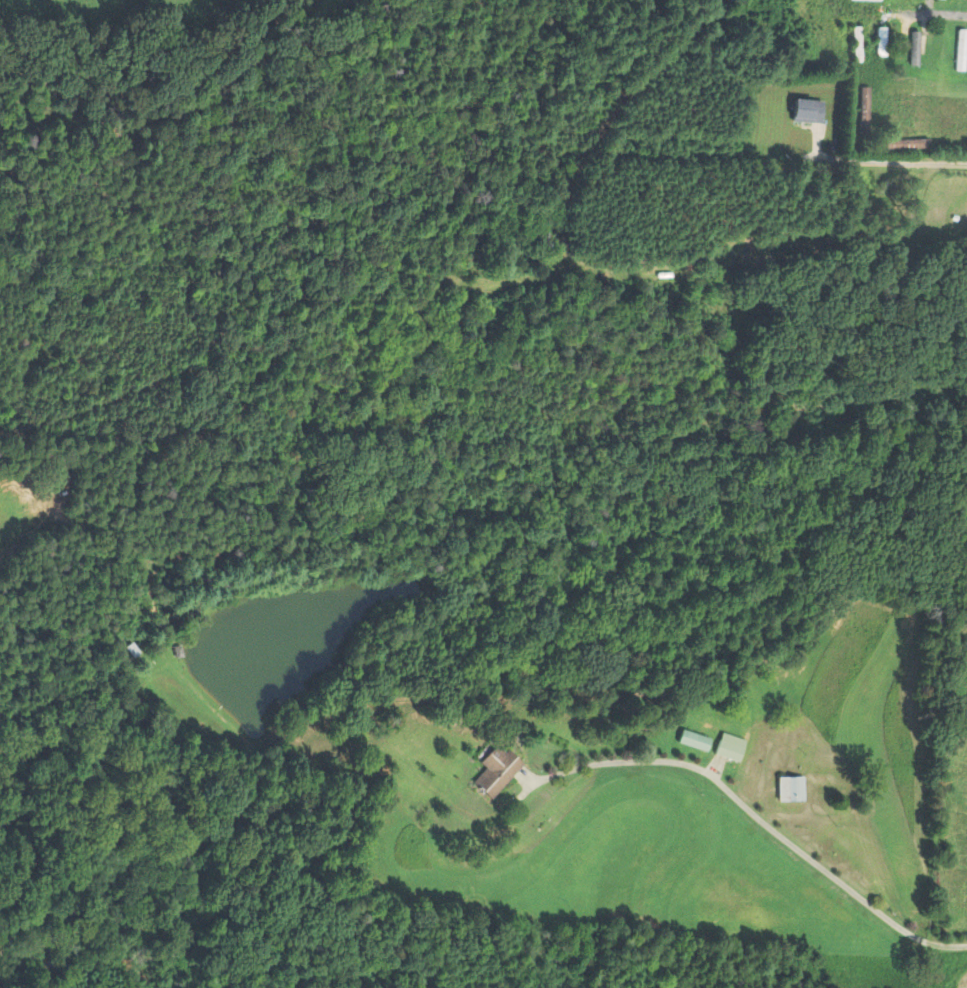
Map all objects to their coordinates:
road: (940, 15)
building: (768, 18)
building: (879, 48)
building: (961, 49)
building: (915, 50)
building: (807, 111)
road: (891, 157)
building: (549, 253)
building: (693, 740)
building: (729, 746)
building: (496, 770)
building: (788, 789)
road: (762, 819)

